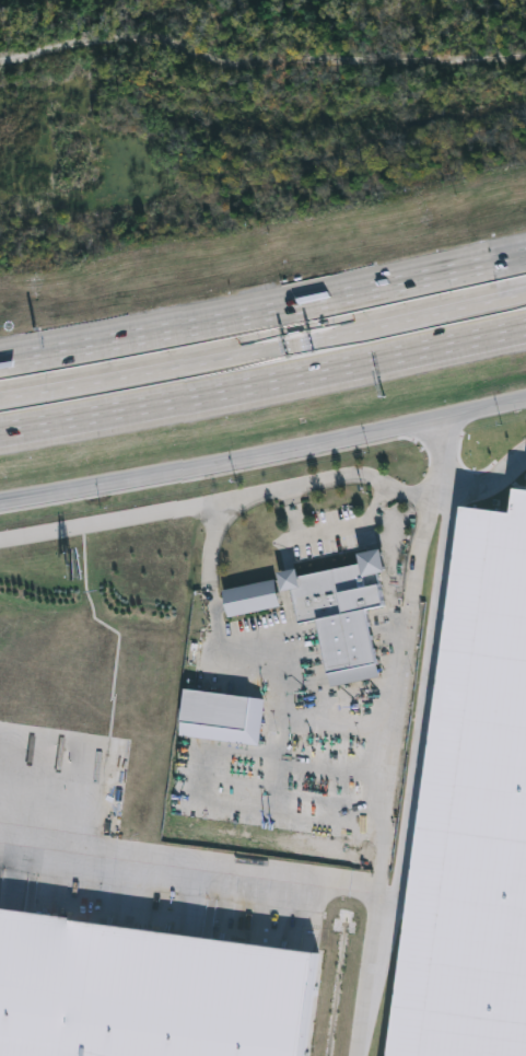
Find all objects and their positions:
road: (264, 312)
building: (436, 317)
road: (264, 351)
building: (268, 357)
road: (264, 382)
road: (522, 397)
building: (32, 405)
road: (476, 407)
road: (218, 464)
road: (483, 473)
road: (336, 478)
road: (116, 520)
building: (250, 601)
building: (339, 612)
road: (396, 688)
road: (425, 697)
building: (214, 712)
road: (269, 868)
building: (147, 993)

